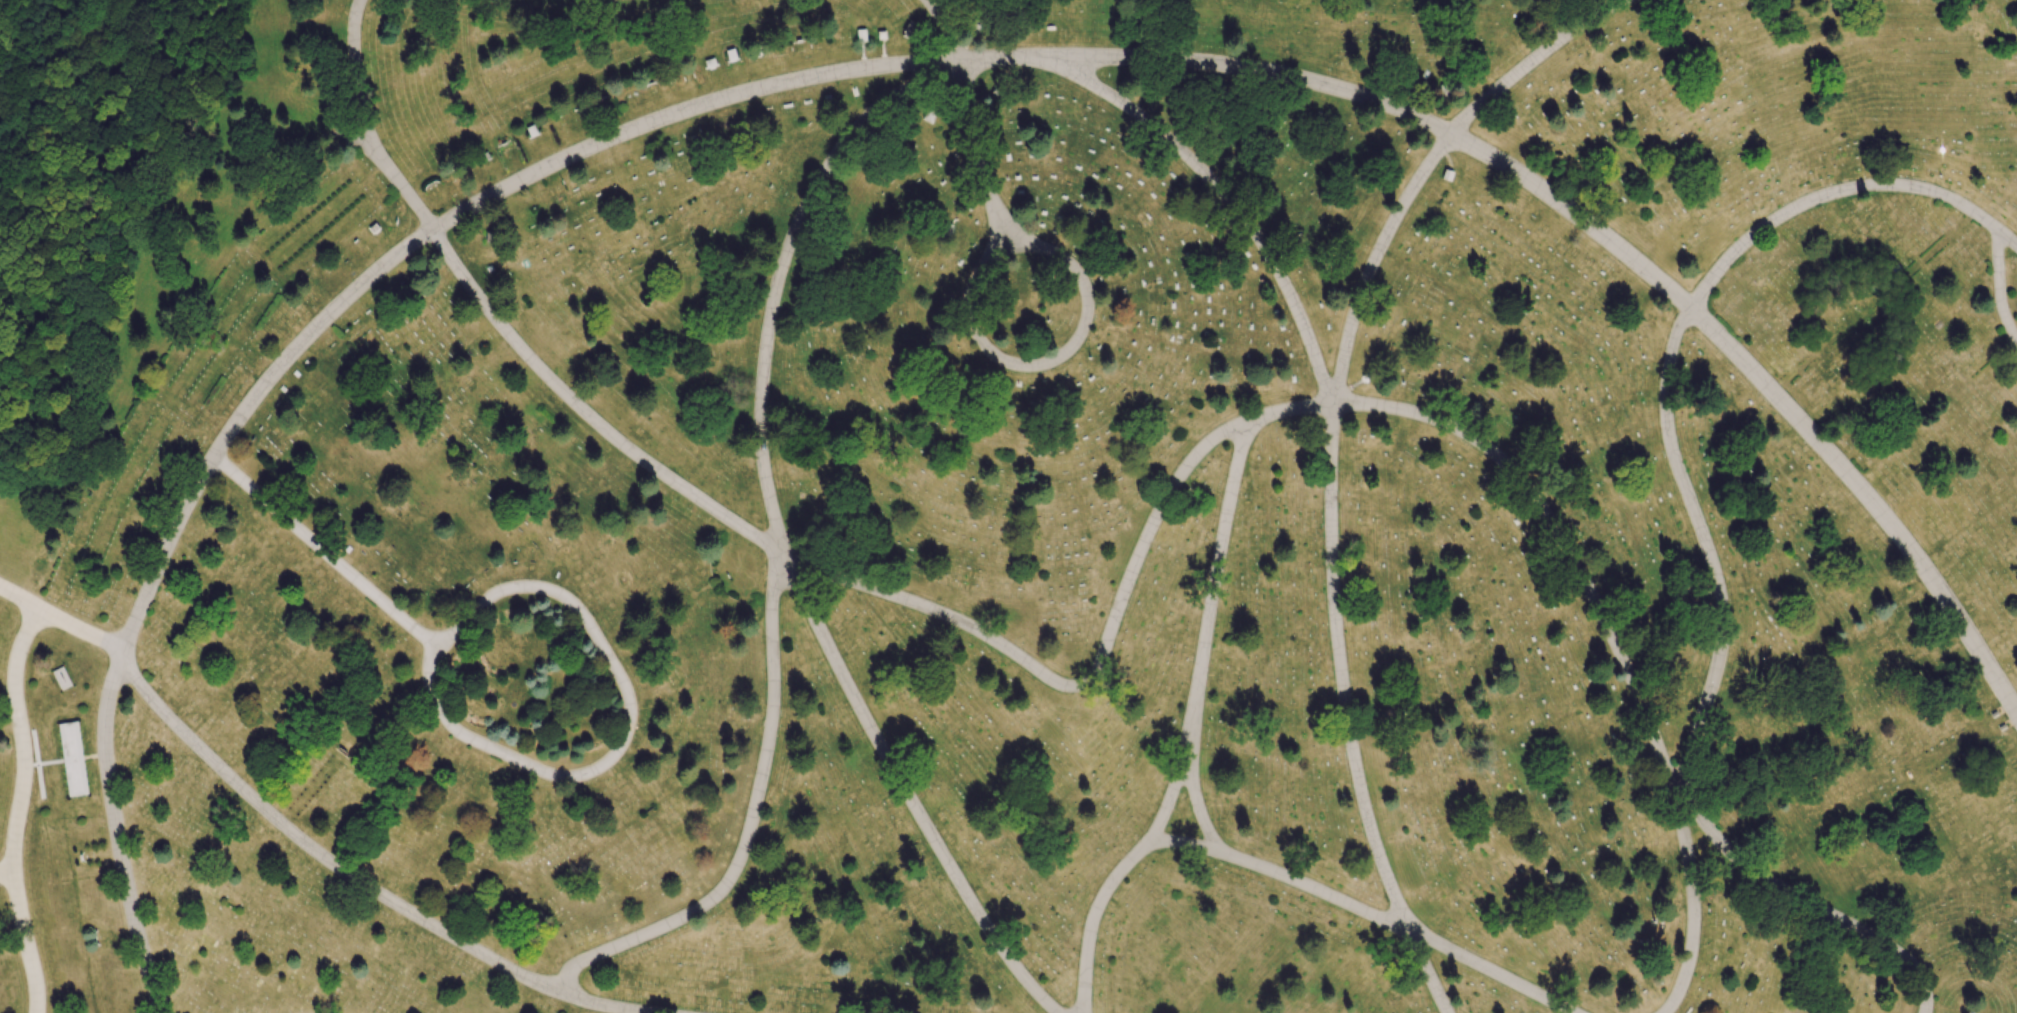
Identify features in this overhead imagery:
road: (966, 115)
road: (1619, 249)
road: (781, 267)
road: (1999, 286)
road: (293, 352)
road: (1061, 354)
road: (1679, 472)
road: (1331, 505)
park: (1008, 506)
road: (327, 553)
road: (1132, 572)
building: (73, 759)
road: (578, 775)
road: (1184, 789)
road: (20, 809)
road: (751, 819)
road: (301, 838)
road: (5, 871)
road: (1103, 895)

